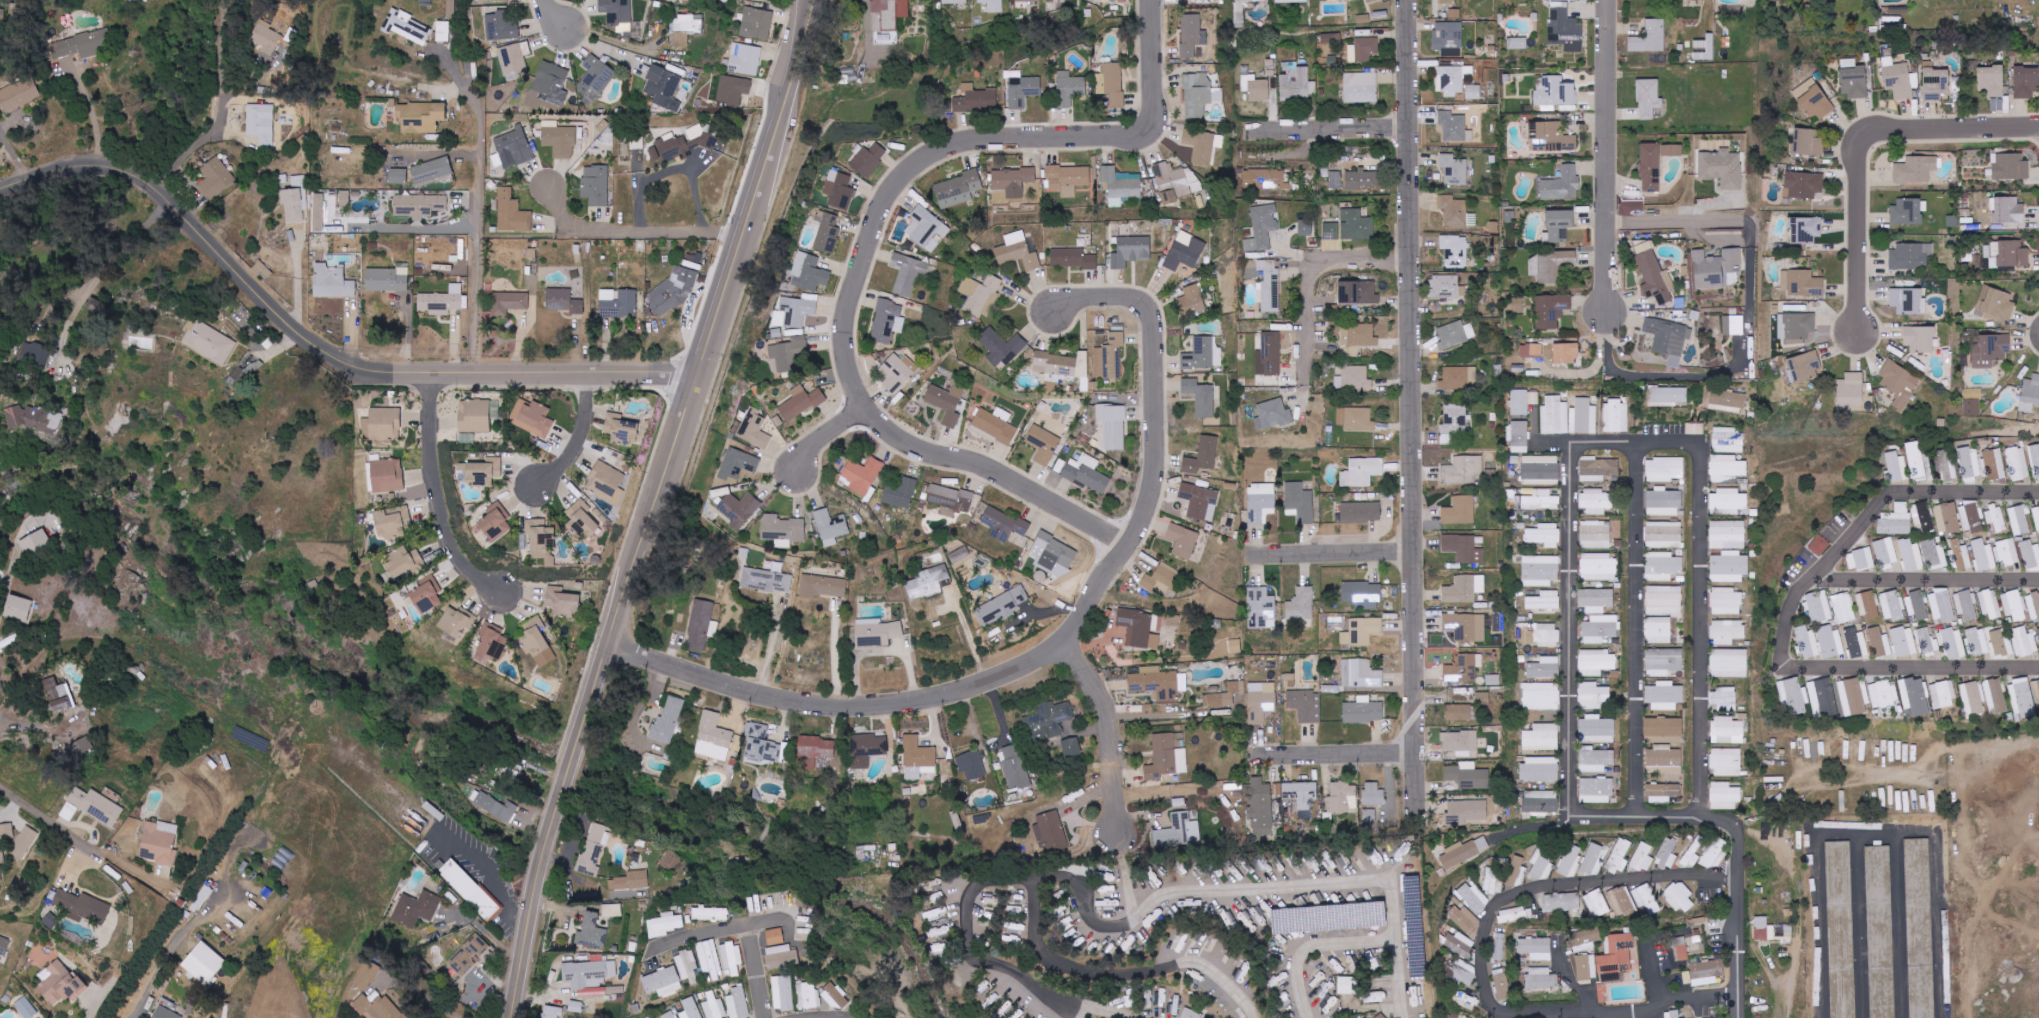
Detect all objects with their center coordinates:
building: (1027, 0)
building: (1356, 0)
building: (955, 1)
building: (1251, 1)
building: (1291, 1)
building: (1073, 3)
road: (816, 4)
building: (993, 5)
building: (1443, 8)
building: (1239, 15)
building: (621, 16)
building: (887, 19)
road: (550, 20)
building: (756, 23)
building: (406, 26)
building: (501, 26)
building: (686, 27)
road: (867, 28)
building: (1565, 28)
building: (442, 31)
building: (1191, 34)
building: (1448, 35)
building: (266, 37)
building: (1650, 37)
building: (1331, 38)
building: (1517, 42)
building: (84, 43)
road: (598, 45)
building: (1704, 48)
building: (1363, 49)
building: (516, 57)
building: (745, 59)
road: (1157, 63)
building: (596, 77)
building: (1898, 78)
building: (1452, 79)
building: (1853, 79)
building: (1991, 80)
building: (1935, 82)
building: (2026, 82)
building: (1113, 83)
building: (1296, 84)
building: (548, 87)
building: (1255, 87)
building: (1361, 87)
building: (663, 88)
building: (1069, 88)
building: (1021, 89)
building: (733, 90)
building: (1473, 91)
building: (1555, 92)
building: (19, 94)
building: (1197, 94)
building: (1648, 98)
building: (966, 99)
building: (1813, 99)
road: (222, 108)
road: (90, 113)
building: (420, 117)
building: (261, 124)
building: (1454, 127)
road: (1328, 130)
road: (1952, 130)
building: (1550, 137)
building: (559, 139)
building: (637, 142)
building: (1809, 143)
building: (1203, 145)
building: (683, 146)
building: (511, 149)
building: (1672, 150)
road: (14, 153)
building: (655, 154)
road: (1608, 155)
building: (869, 160)
building: (2010, 166)
building: (1650, 167)
building: (1721, 168)
building: (1457, 169)
building: (1915, 169)
building: (431, 170)
road: (668, 172)
road: (910, 175)
building: (398, 176)
building: (217, 178)
building: (1068, 178)
building: (1365, 178)
building: (1267, 179)
building: (1336, 180)
building: (1012, 181)
building: (1562, 184)
building: (1803, 184)
building: (596, 185)
building: (958, 189)
building: (840, 190)
building: (344, 199)
building: (294, 205)
building: (418, 205)
building: (2007, 210)
building: (1456, 211)
building: (1907, 212)
building: (512, 213)
road: (421, 223)
building: (1560, 225)
building: (1350, 226)
building: (1261, 227)
road: (635, 228)
building: (926, 228)
building: (1305, 228)
building: (1806, 229)
building: (828, 233)
road: (479, 234)
road: (1862, 235)
building: (1022, 250)
building: (1454, 250)
building: (1131, 251)
building: (1185, 251)
building: (2009, 254)
building: (1911, 256)
building: (1073, 258)
building: (1553, 265)
road: (103, 268)
building: (1717, 268)
road: (1304, 270)
building: (808, 272)
building: (910, 273)
building: (1655, 276)
building: (387, 279)
building: (1802, 283)
building: (1269, 285)
building: (1447, 287)
building: (675, 289)
building: (1358, 292)
building: (980, 294)
building: (1192, 300)
building: (1907, 300)
building: (442, 301)
building: (564, 301)
building: (508, 303)
building: (618, 303)
building: (1996, 303)
building: (1518, 305)
building: (1551, 310)
building: (794, 312)
building: (888, 321)
road: (1749, 321)
building: (1733, 325)
building: (1797, 325)
building: (1456, 334)
building: (1357, 337)
building: (1920, 338)
building: (1669, 339)
building: (210, 342)
building: (1001, 347)
building: (1991, 349)
building: (1536, 350)
building: (790, 353)
building: (1566, 353)
building: (35, 354)
building: (1203, 354)
road: (309, 357)
building: (1110, 357)
building: (1061, 366)
building: (1807, 366)
building: (899, 372)
building: (1353, 378)
building: (1459, 378)
building: (1899, 383)
building: (1851, 393)
building: (1973, 393)
building: (2030, 394)
building: (1668, 396)
building: (1200, 397)
building: (1727, 400)
building: (1523, 401)
building: (801, 402)
building: (947, 402)
building: (1972, 407)
road: (1413, 409)
building: (1273, 415)
building: (474, 416)
building: (1555, 416)
building: (1583, 416)
building: (1615, 416)
building: (532, 418)
building: (36, 419)
building: (1359, 419)
building: (1455, 420)
building: (385, 422)
building: (995, 425)
building: (1113, 426)
building: (621, 428)
building: (754, 429)
road: (828, 434)
building: (1519, 436)
road: (581, 438)
building: (1728, 440)
building: (1043, 445)
building: (1203, 456)
building: (2035, 459)
building: (1916, 460)
building: (2018, 463)
building: (738, 464)
building: (1970, 464)
building: (1994, 464)
building: (1896, 465)
building: (1727, 468)
building: (1598, 469)
building: (1664, 469)
building: (1463, 470)
building: (1541, 470)
building: (1948, 470)
building: (483, 472)
building: (1361, 472)
road: (1001, 473)
building: (1087, 473)
building: (387, 475)
building: (863, 475)
building: (605, 481)
building: (901, 493)
road: (439, 497)
building: (1542, 499)
building: (950, 500)
building: (1200, 501)
building: (1595, 501)
building: (1729, 501)
building: (1300, 502)
building: (1261, 503)
building: (735, 506)
road: (659, 508)
building: (1460, 511)
building: (1361, 512)
building: (1923, 517)
building: (1971, 517)
building: (1997, 517)
building: (1947, 518)
building: (584, 519)
building: (2037, 519)
building: (1896, 520)
building: (2019, 520)
building: (392, 522)
building: (495, 523)
building: (1004, 524)
building: (830, 526)
building: (783, 530)
building: (1595, 534)
building: (1727, 534)
building: (1544, 535)
building: (1663, 535)
building: (541, 541)
building: (1183, 541)
building: (36, 542)
building: (1819, 545)
building: (1463, 548)
road: (1707, 549)
building: (1886, 552)
building: (2008, 553)
building: (2030, 553)
building: (1053, 554)
road: (1335, 554)
building: (1934, 554)
building: (1911, 555)
building: (1984, 555)
building: (1959, 556)
building: (1860, 559)
building: (405, 562)
building: (1663, 566)
building: (1598, 567)
building: (1729, 567)
building: (1540, 570)
building: (767, 579)
building: (1162, 579)
building: (928, 583)
building: (824, 586)
road: (9, 587)
road: (1924, 588)
building: (1463, 589)
building: (427, 594)
building: (1362, 595)
building: (1596, 600)
building: (1664, 600)
building: (1544, 601)
building: (1726, 601)
building: (562, 602)
building: (1301, 604)
building: (1003, 605)
building: (1868, 605)
building: (1892, 605)
building: (1941, 605)
building: (1966, 605)
building: (1990, 605)
building: (2014, 605)
building: (1917, 606)
building: (2033, 606)
building: (19, 607)
building: (1819, 607)
building: (1260, 608)
building: (1843, 608)
road: (1796, 613)
building: (457, 621)
building: (700, 625)
building: (1465, 626)
building: (1140, 628)
building: (1600, 629)
building: (1658, 630)
building: (1362, 631)
road: (1642, 631)
building: (2038, 631)
building: (877, 632)
building: (1727, 632)
building: (1546, 635)
road: (970, 636)
building: (1820, 641)
building: (1977, 641)
building: (493, 642)
building: (537, 642)
building: (1880, 642)
building: (1928, 642)
building: (1954, 642)
building: (2001, 642)
building: (2024, 642)
building: (1856, 643)
road: (1060, 645)
road: (770, 649)
road: (836, 659)
building: (1596, 662)
building: (1663, 662)
building: (1729, 663)
building: (1455, 664)
building: (1545, 668)
building: (1362, 673)
building: (1156, 683)
building: (2036, 691)
building: (56, 694)
building: (1884, 694)
building: (1225, 695)
building: (1943, 695)
building: (1541, 696)
building: (1593, 696)
building: (1664, 696)
building: (1793, 696)
building: (1854, 696)
building: (1915, 696)
building: (1995, 696)
building: (1823, 697)
building: (1482, 698)
building: (1724, 698)
building: (1973, 698)
building: (2023, 699)
building: (1261, 701)
building: (1305, 705)
building: (1363, 711)
building: (1459, 712)
building: (1048, 719)
building: (668, 721)
building: (1596, 729)
building: (1663, 730)
building: (1727, 731)
road: (1110, 737)
building: (1542, 737)
building: (713, 738)
building: (1460, 742)
building: (762, 745)
building: (81, 746)
building: (1071, 747)
building: (817, 748)
building: (867, 749)
road: (1333, 755)
building: (1167, 756)
building: (918, 758)
building: (1595, 759)
building: (1726, 762)
building: (971, 765)
building: (1015, 767)
building: (1540, 769)
building: (1468, 776)
building: (1596, 790)
building: (1662, 792)
building: (1373, 794)
building: (1724, 796)
building: (1342, 797)
building: (1301, 798)
building: (1541, 802)
road: (1577, 804)
building: (95, 806)
building: (495, 807)
building: (1261, 807)
building: (1466, 812)
building: (1369, 815)
building: (6, 831)
building: (1051, 832)
building: (1178, 832)
road: (1879, 832)
road: (77, 837)
building: (25, 841)
building: (159, 843)
building: (595, 848)
building: (1463, 852)
road: (1122, 853)
building: (1668, 853)
building: (1693, 853)
building: (1714, 854)
building: (2, 855)
building: (1619, 856)
building: (1643, 857)
building: (1571, 860)
building: (1593, 860)
road: (490, 864)
building: (1542, 865)
building: (0, 876)
building: (1505, 876)
building: (630, 881)
road: (1129, 888)
building: (469, 889)
road: (1555, 891)
building: (1472, 897)
building: (1679, 897)
building: (1646, 899)
building: (1562, 902)
building: (1622, 902)
building: (1597, 903)
building: (82, 907)
building: (416, 908)
building: (612, 910)
building: (935, 913)
building: (710, 914)
building: (1516, 914)
building: (1329, 918)
road: (1121, 922)
building: (1468, 923)
building: (665, 924)
building: (1841, 928)
building: (1920, 928)
building: (1763, 930)
building: (591, 931)
building: (1880, 931)
building: (939, 932)
building: (1785, 932)
road: (727, 933)
building: (775, 936)
road: (1312, 940)
building: (478, 944)
building: (4, 945)
building: (1461, 945)
building: (1499, 945)
building: (1581, 946)
road: (441, 947)
building: (1536, 948)
building: (1617, 954)
building: (731, 957)
building: (781, 957)
building: (710, 959)
road: (1058, 959)
building: (462, 961)
building: (204, 963)
road: (1173, 964)
building: (689, 967)
building: (1586, 968)
road: (760, 973)
building: (1706, 973)
building: (1463, 974)
building: (366, 976)
building: (589, 976)
building: (1612, 977)
road: (1790, 978)
building: (1540, 979)
building: (663, 982)
building: (59, 984)
building: (1347, 985)
building: (1502, 987)
building: (783, 993)
building: (808, 995)
road: (435, 996)
building: (836, 997)
building: (1374, 997)
road: (101, 1001)
building: (738, 1003)
building: (377, 1006)
building: (714, 1007)
building: (1176, 1007)
building: (26, 1008)
building: (690, 1008)
road: (1678, 1010)
road: (1079, 1011)
building: (552, 1012)
road: (133, 1013)
building: (166, 1013)
road: (1608, 1013)
building: (1191, 1014)
building: (1675, 1014)
building: (670, 1015)
road: (1467, 1015)
road: (1560, 1015)
building: (1381, 1016)
road: (1522, 1016)

